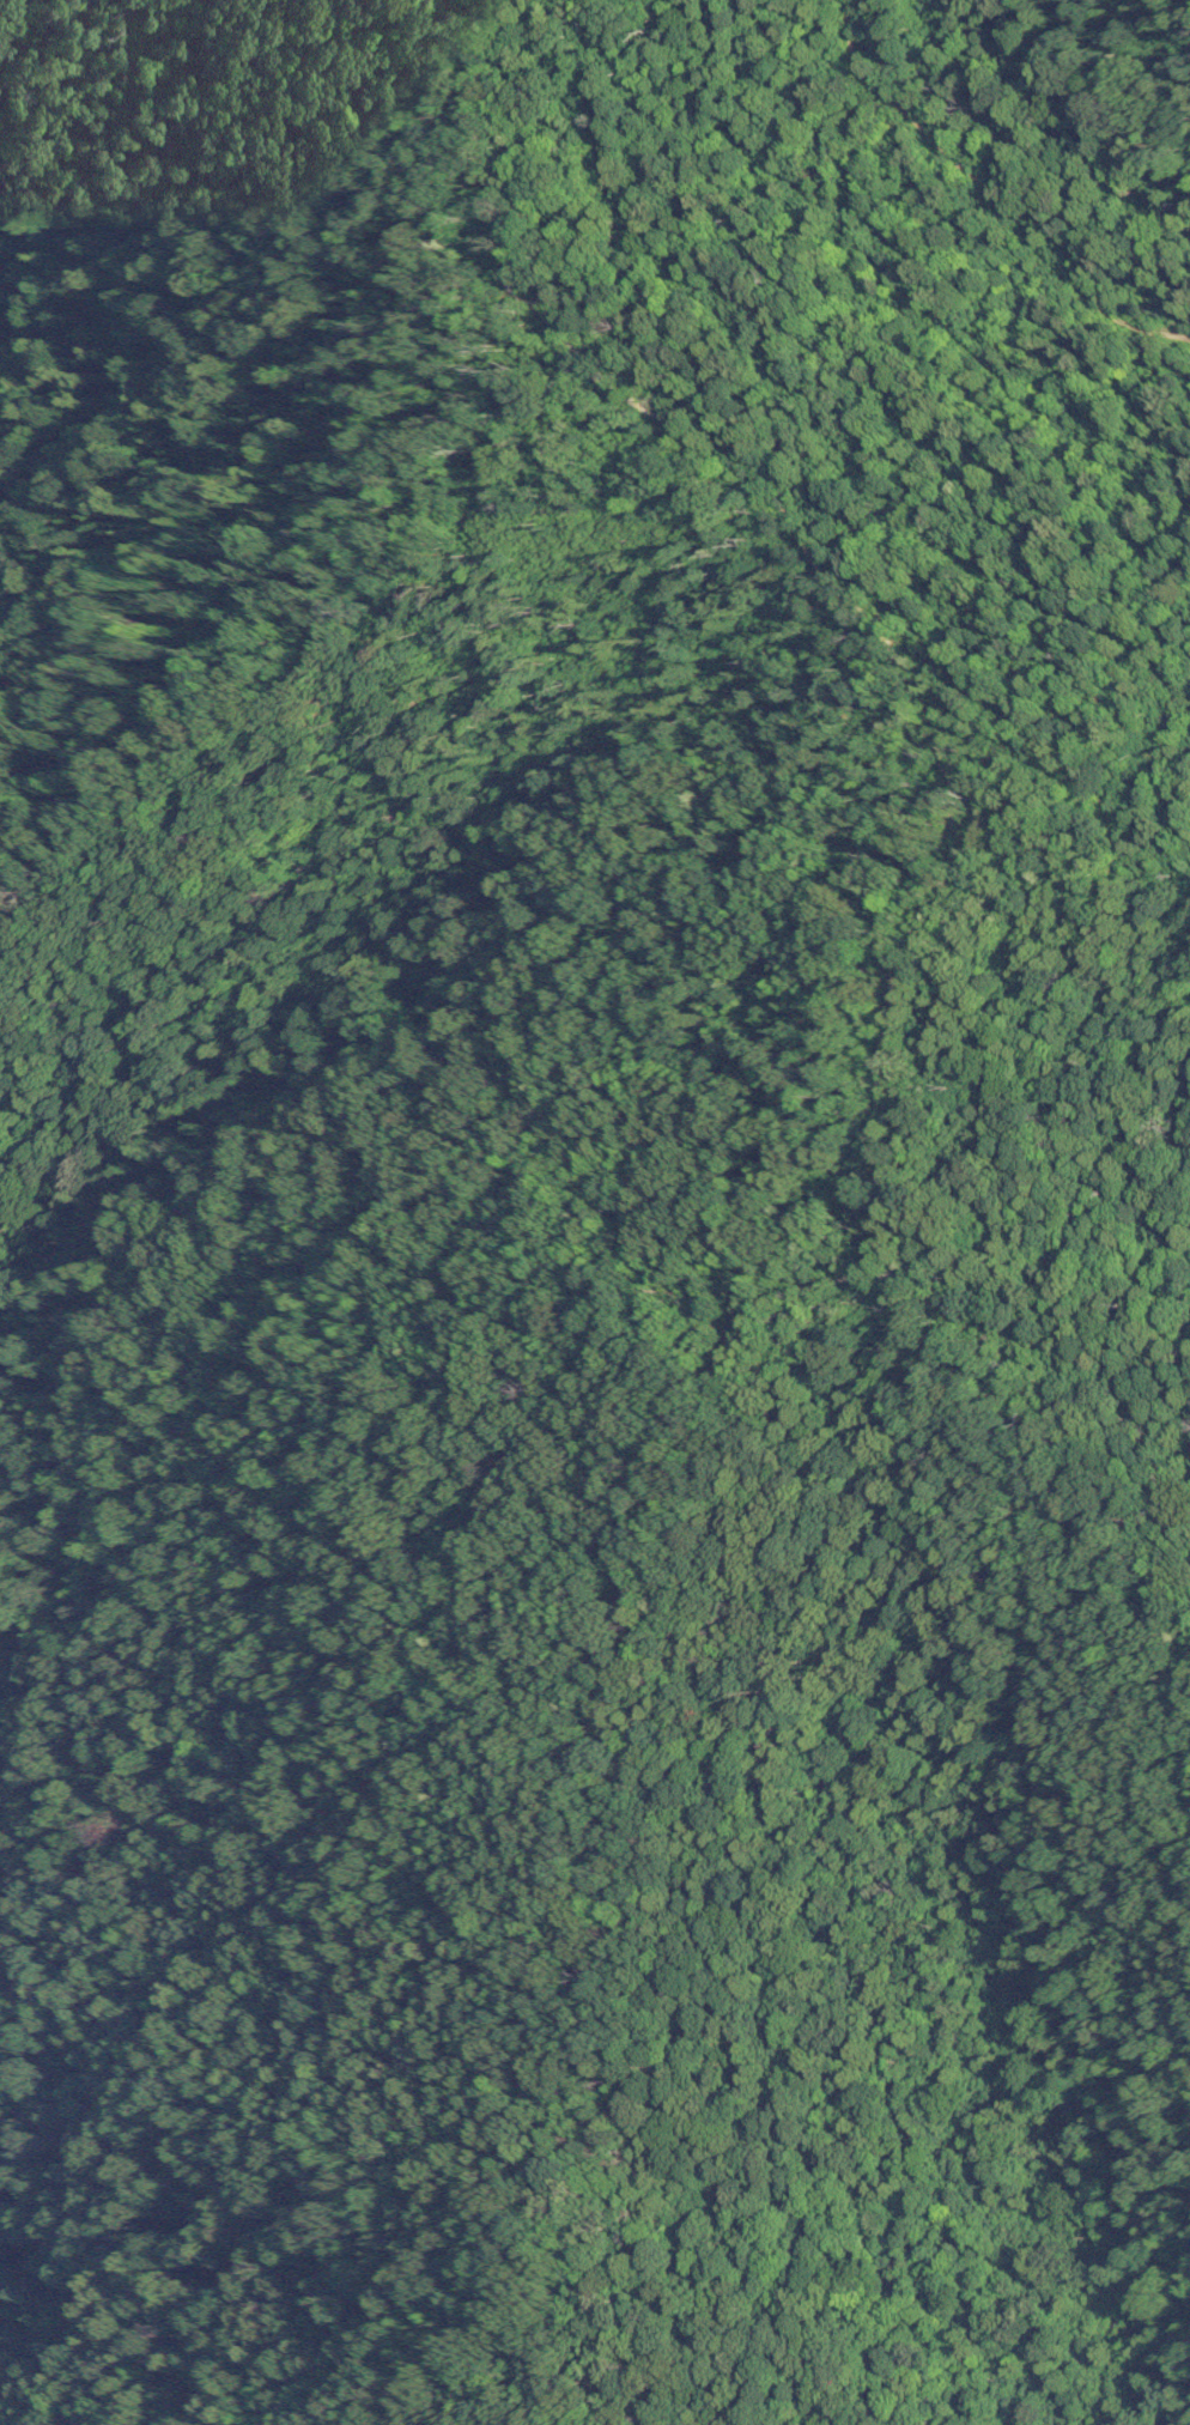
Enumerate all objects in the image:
road: (10, 220)

